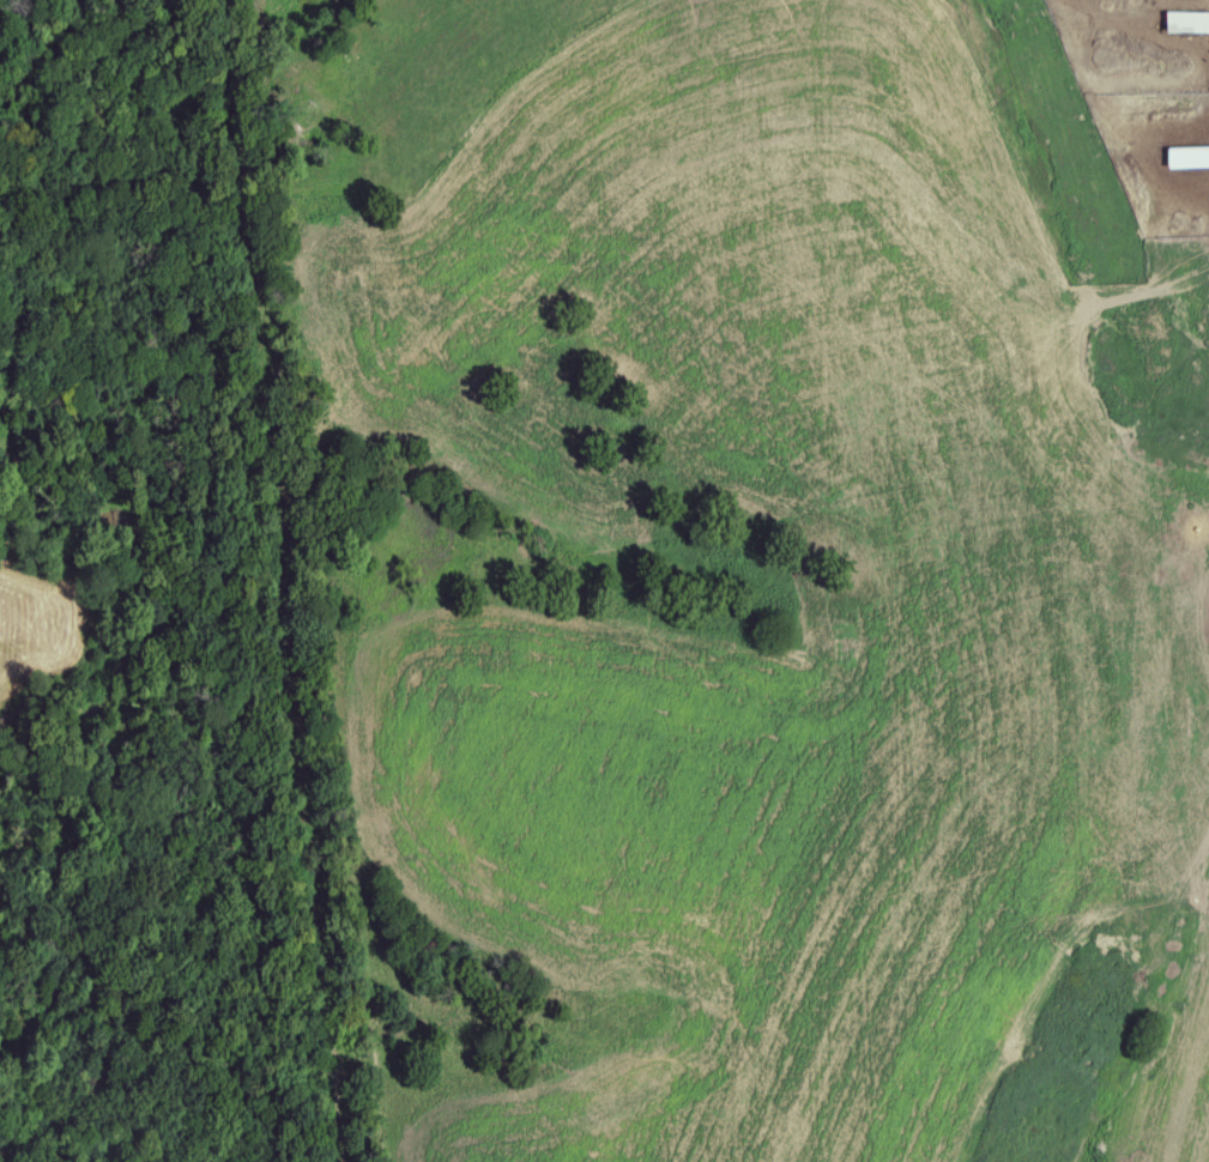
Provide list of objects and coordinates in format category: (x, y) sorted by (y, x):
building: (1190, 23)
building: (1190, 158)

